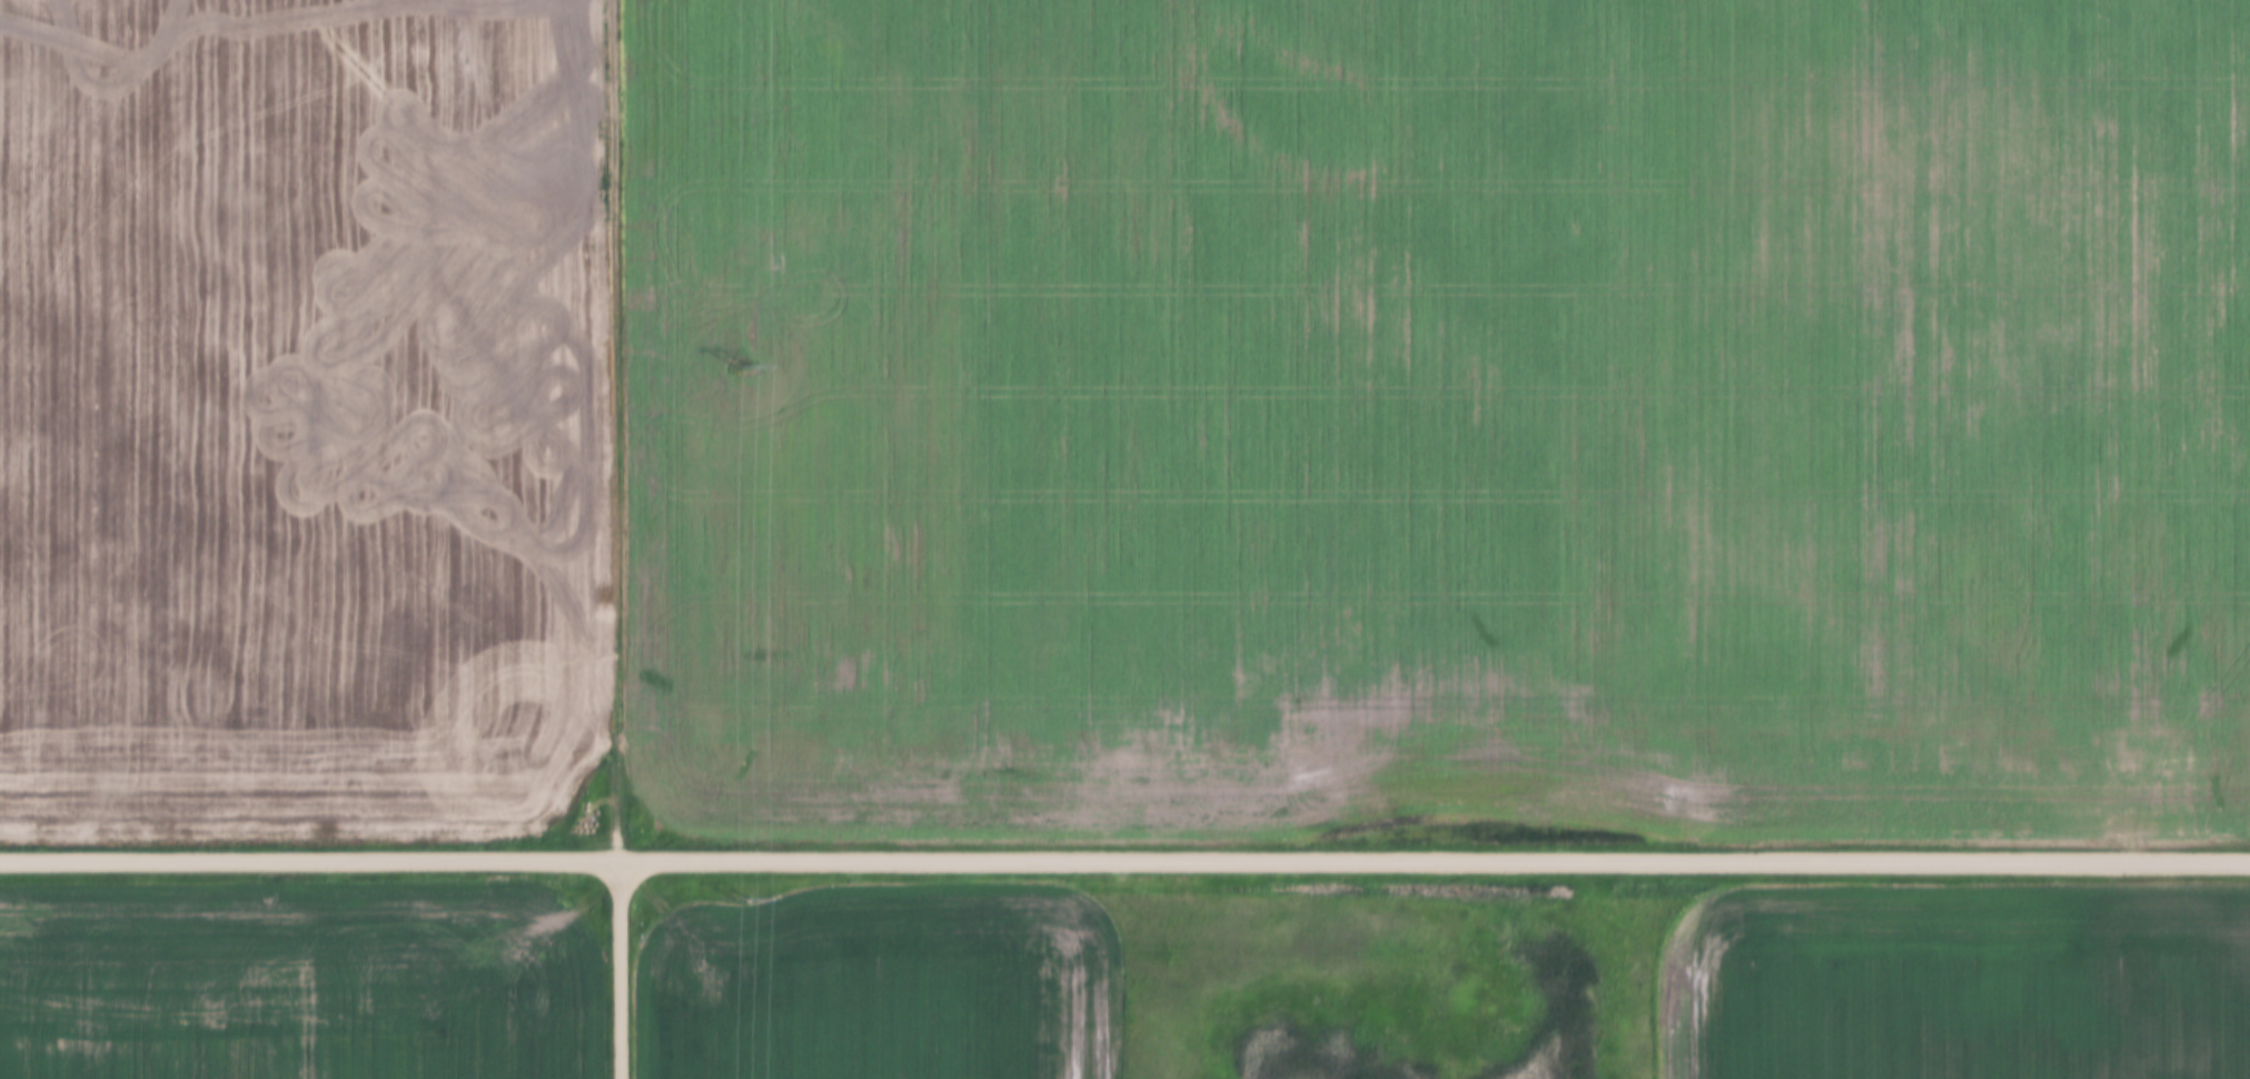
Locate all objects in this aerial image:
power tower: (741, 368)
road: (1124, 859)
power tower: (740, 900)
road: (624, 969)

